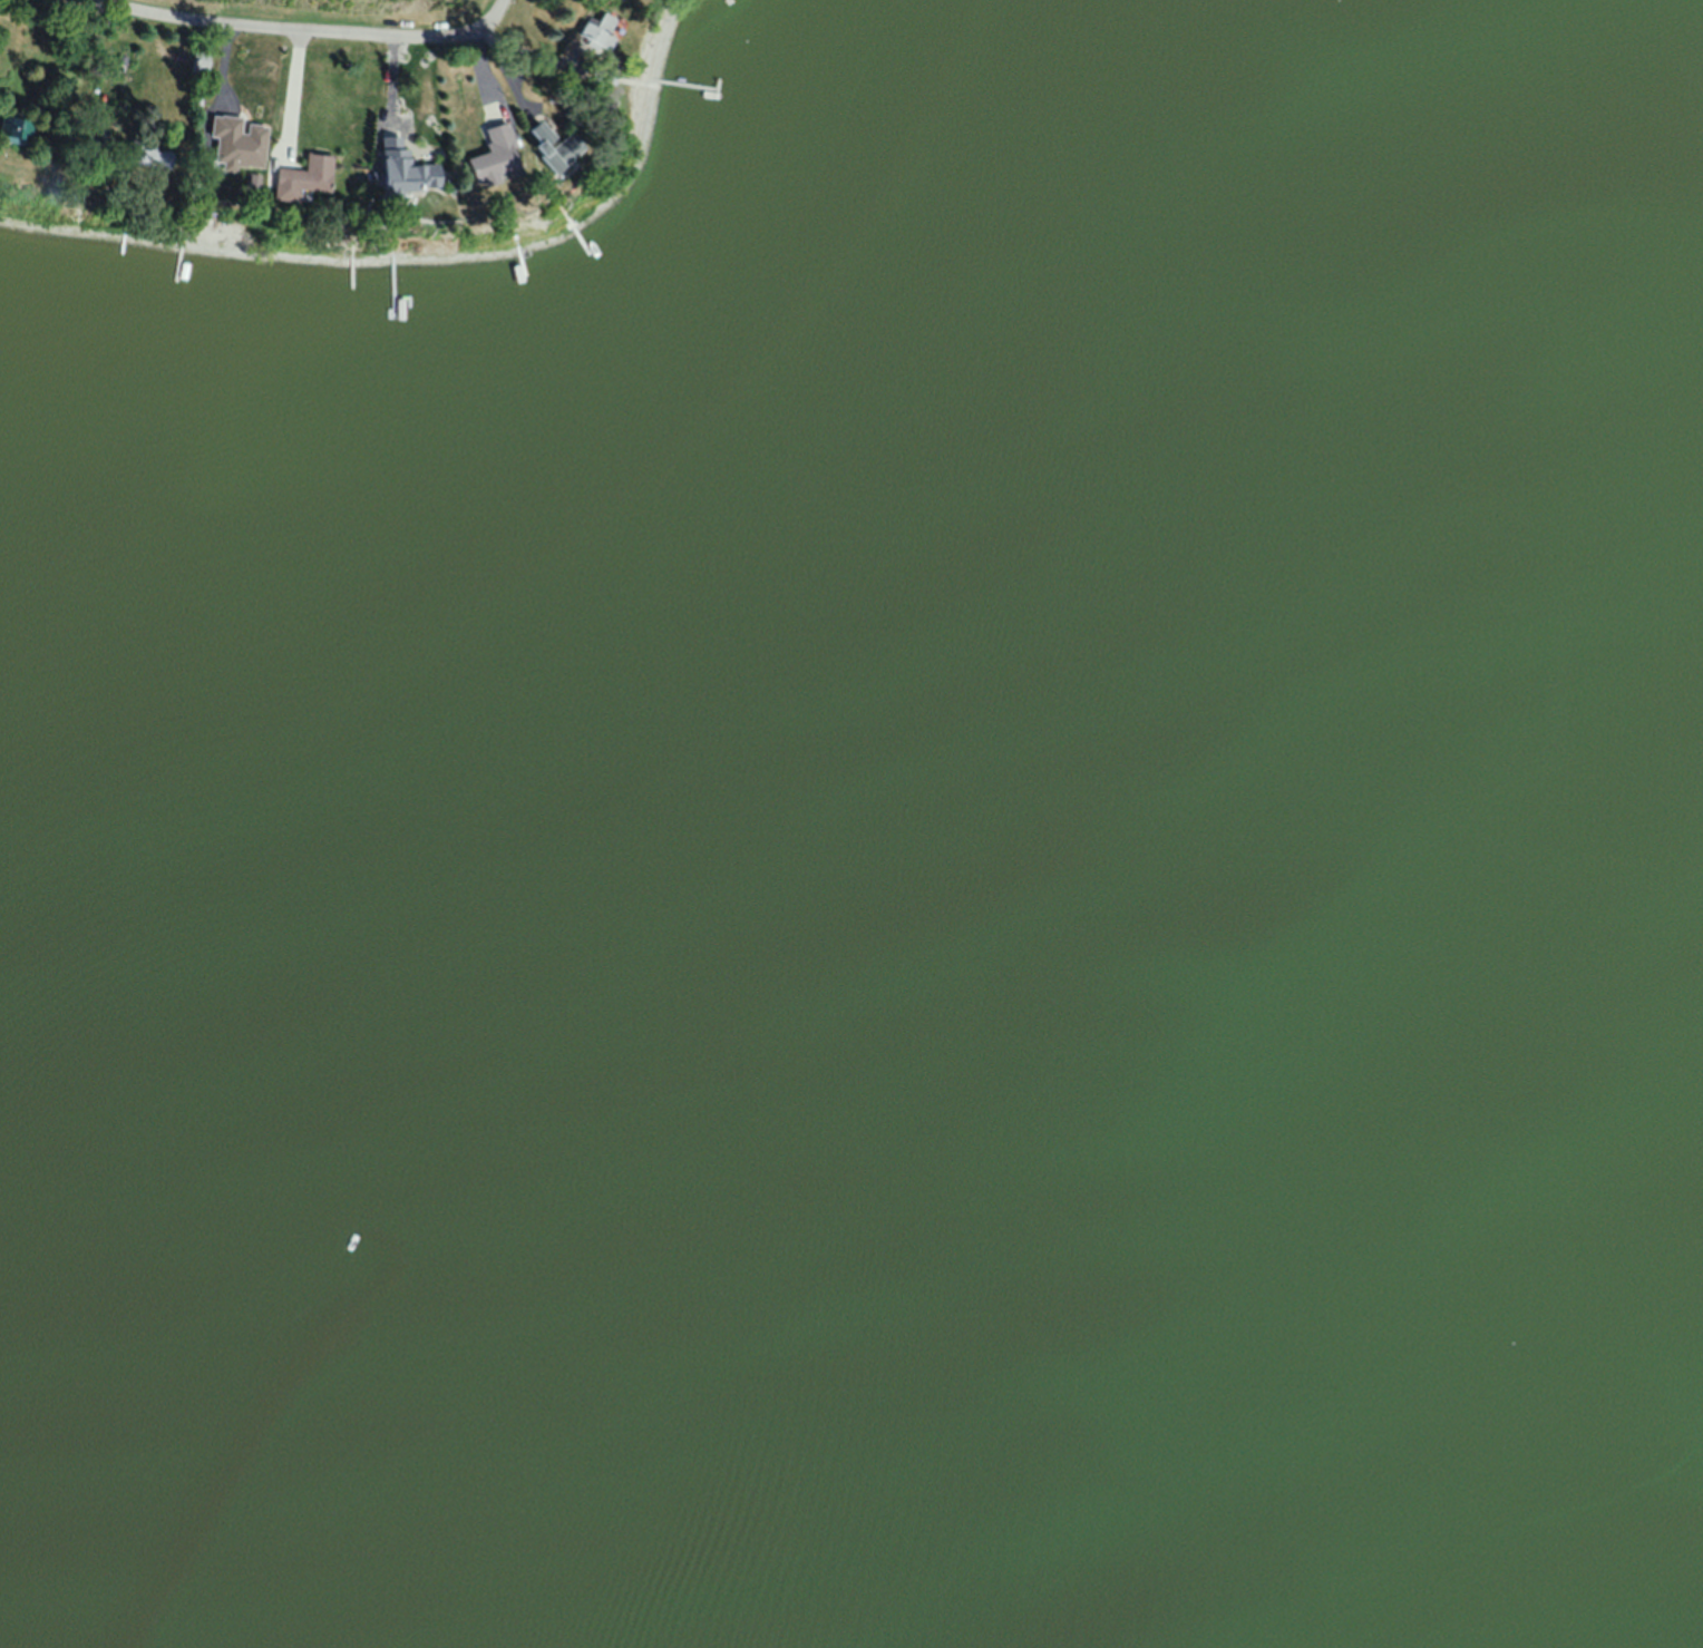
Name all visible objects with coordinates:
park: (341, 11)
road: (305, 28)
building: (592, 30)
road: (292, 90)
building: (13, 129)
building: (535, 145)
building: (481, 154)
building: (143, 157)
building: (392, 166)
building: (228, 177)
building: (296, 177)

